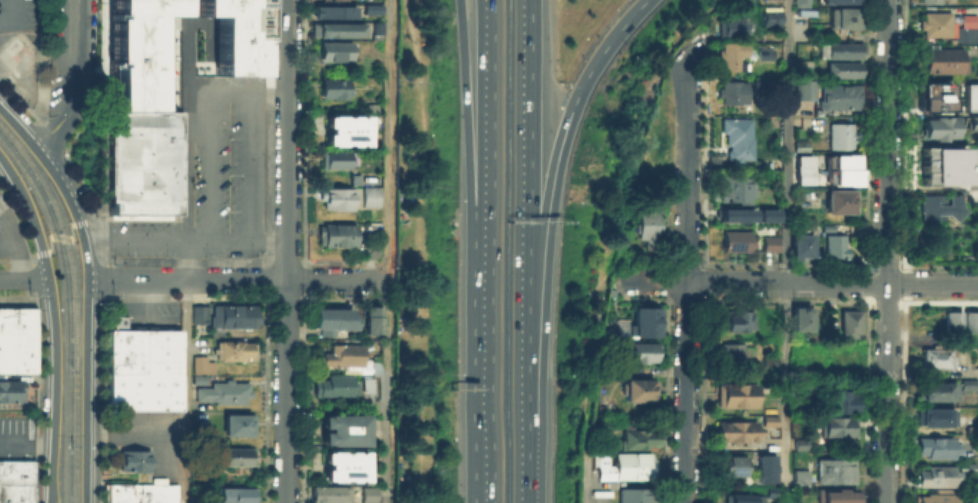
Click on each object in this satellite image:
building: (824, 0)
building: (926, 0)
building: (799, 1)
building: (371, 7)
road: (8, 11)
building: (333, 11)
building: (772, 13)
building: (844, 15)
building: (729, 22)
building: (948, 25)
building: (376, 26)
building: (337, 29)
road: (209, 30)
building: (104, 33)
building: (236, 35)
building: (841, 47)
building: (333, 48)
building: (762, 49)
road: (161, 50)
road: (603, 50)
building: (134, 51)
building: (729, 53)
building: (939, 58)
building: (205, 60)
building: (841, 68)
road: (76, 81)
building: (762, 85)
building: (331, 86)
road: (237, 87)
building: (803, 87)
building: (731, 91)
building: (835, 95)
road: (17, 96)
building: (931, 96)
building: (970, 96)
road: (525, 110)
road: (687, 118)
building: (971, 121)
building: (936, 126)
road: (16, 127)
road: (266, 129)
building: (345, 129)
road: (303, 130)
road: (471, 131)
road: (489, 131)
road: (49, 132)
building: (841, 135)
building: (735, 137)
road: (786, 141)
building: (799, 145)
building: (333, 156)
building: (140, 162)
road: (247, 162)
road: (547, 164)
building: (943, 165)
building: (802, 168)
building: (839, 168)
road: (208, 171)
building: (354, 178)
road: (81, 183)
building: (732, 186)
parking lot: (208, 188)
road: (63, 189)
building: (368, 193)
building: (334, 195)
building: (839, 199)
road: (386, 200)
building: (939, 207)
building: (733, 214)
building: (767, 214)
road: (85, 221)
building: (643, 221)
road: (17, 224)
building: (333, 229)
road: (686, 233)
road: (134, 236)
road: (246, 236)
road: (60, 237)
road: (97, 239)
building: (734, 239)
building: (799, 240)
building: (769, 241)
building: (833, 245)
road: (187, 251)
road: (286, 251)
road: (887, 251)
road: (36, 253)
road: (15, 259)
road: (185, 259)
road: (301, 259)
road: (266, 277)
road: (105, 278)
road: (236, 278)
road: (24, 279)
road: (32, 280)
road: (635, 281)
road: (669, 281)
road: (831, 282)
road: (18, 296)
road: (266, 296)
road: (302, 296)
road: (185, 298)
railway: (75, 302)
railway: (66, 312)
building: (196, 312)
building: (229, 313)
building: (799, 316)
building: (371, 317)
building: (333, 318)
building: (736, 318)
building: (952, 318)
building: (970, 318)
road: (523, 320)
building: (645, 320)
building: (847, 322)
road: (55, 323)
building: (15, 338)
building: (230, 348)
building: (641, 350)
building: (728, 351)
building: (341, 352)
building: (840, 353)
building: (802, 355)
building: (934, 355)
building: (199, 362)
building: (373, 362)
building: (140, 365)
road: (87, 370)
building: (365, 381)
building: (333, 383)
road: (483, 383)
building: (966, 383)
building: (9, 388)
building: (640, 388)
building: (222, 389)
building: (935, 389)
road: (685, 392)
road: (785, 392)
building: (733, 393)
building: (842, 395)
road: (104, 400)
road: (266, 400)
road: (302, 400)
road: (35, 401)
building: (934, 415)
building: (768, 418)
building: (236, 422)
building: (837, 425)
building: (343, 429)
building: (735, 430)
building: (637, 432)
road: (136, 434)
road: (16, 441)
road: (43, 441)
building: (800, 442)
building: (934, 445)
road: (386, 452)
building: (233, 453)
building: (132, 459)
road: (522, 461)
building: (730, 464)
building: (623, 465)
building: (343, 466)
building: (832, 469)
building: (933, 474)
building: (798, 476)
building: (15, 480)
road: (583, 488)
building: (771, 488)
building: (327, 491)
building: (141, 492)
building: (233, 493)
building: (367, 493)
building: (633, 493)
building: (833, 495)
building: (964, 496)
building: (934, 497)
building: (741, 498)
building: (368, 502)

